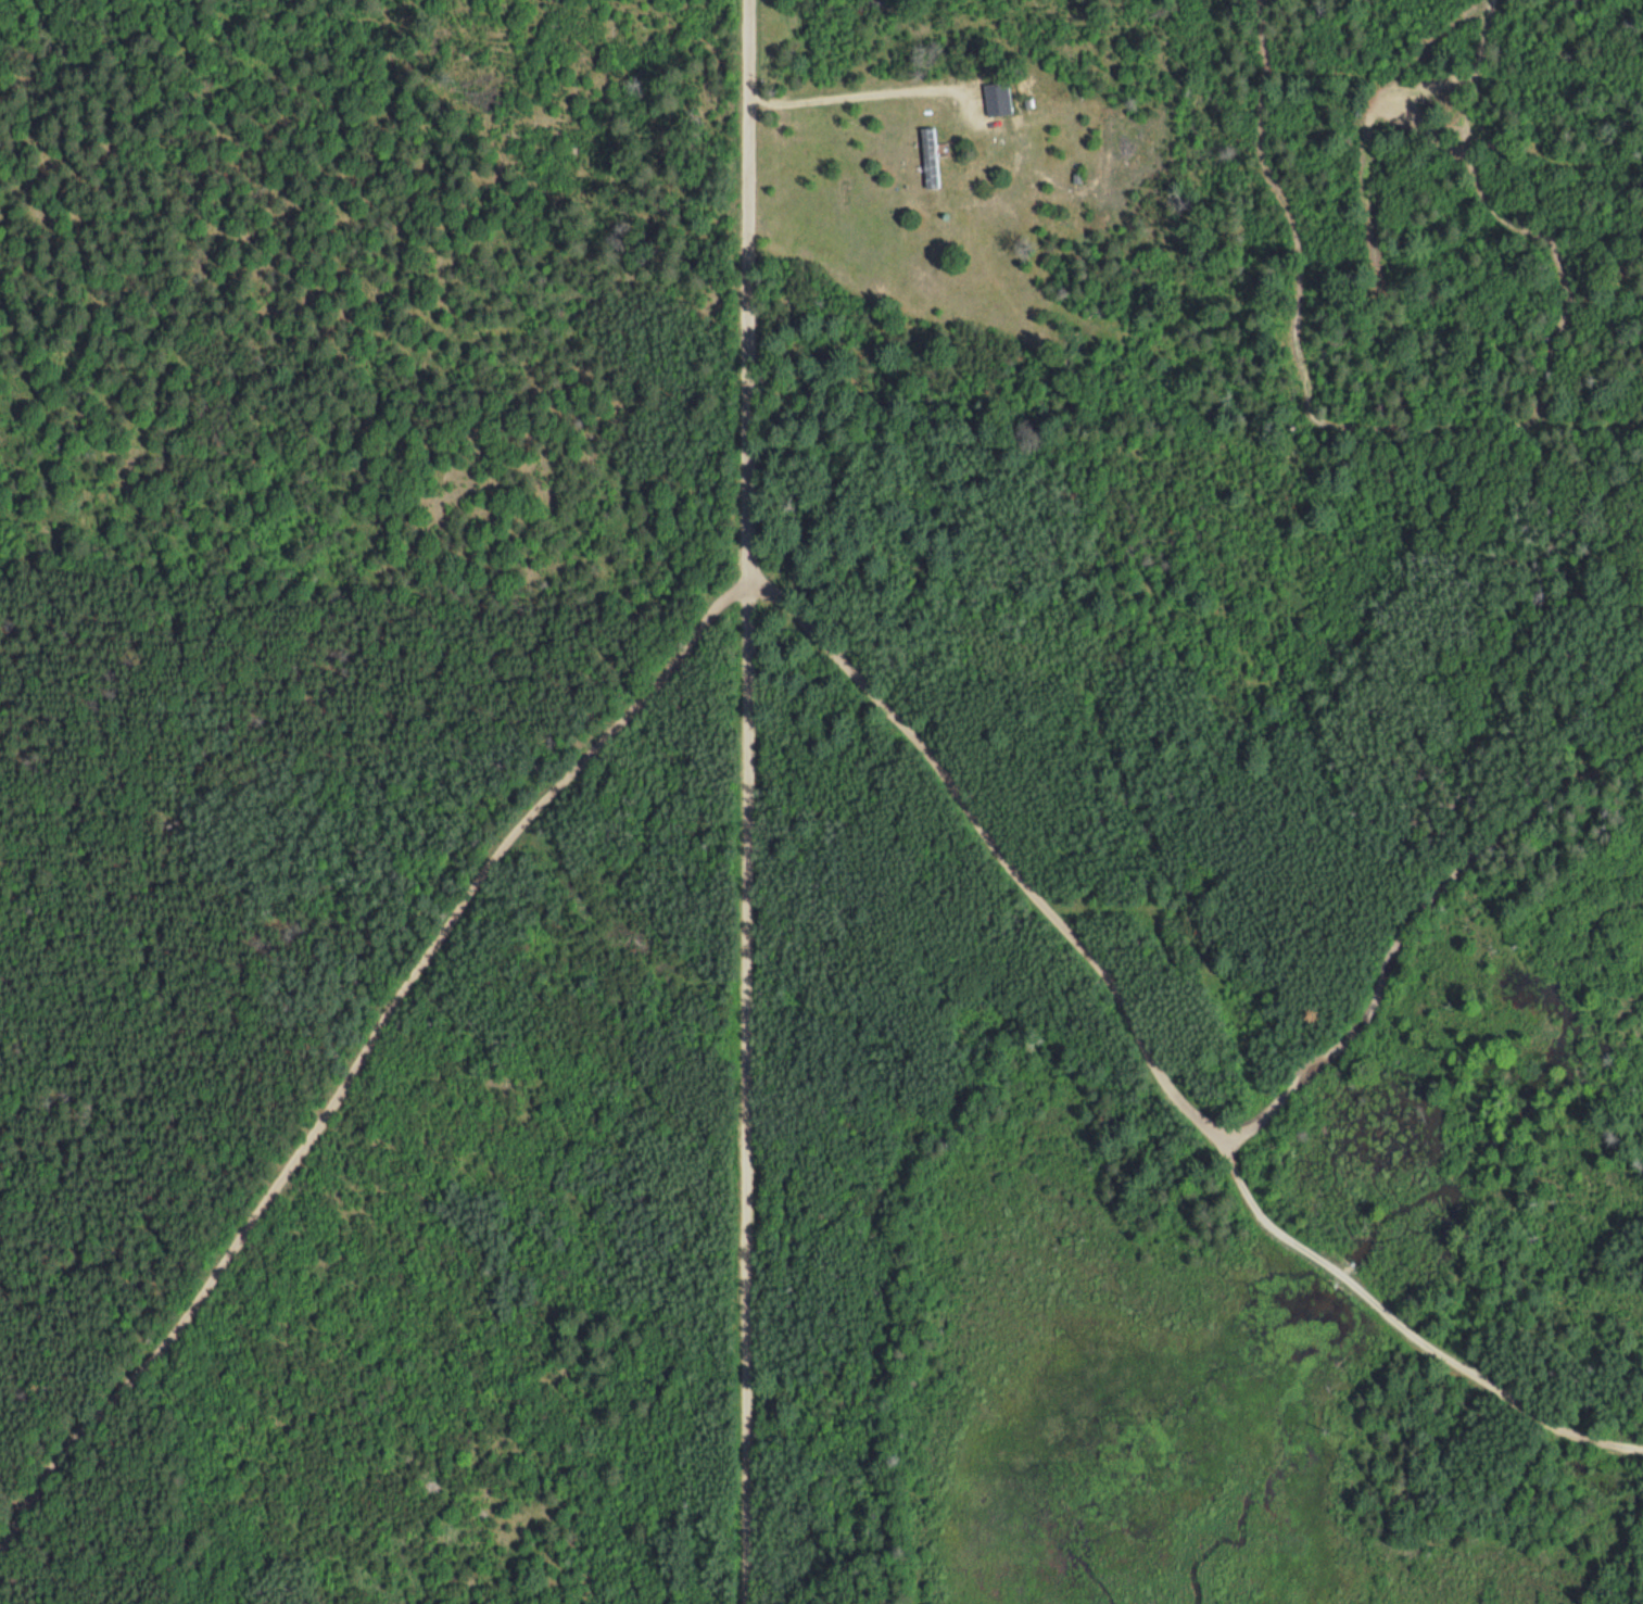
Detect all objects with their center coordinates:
road: (838, 93)
building: (995, 98)
building: (927, 156)
road: (747, 298)
road: (767, 602)
road: (1389, 914)
road: (751, 1099)

